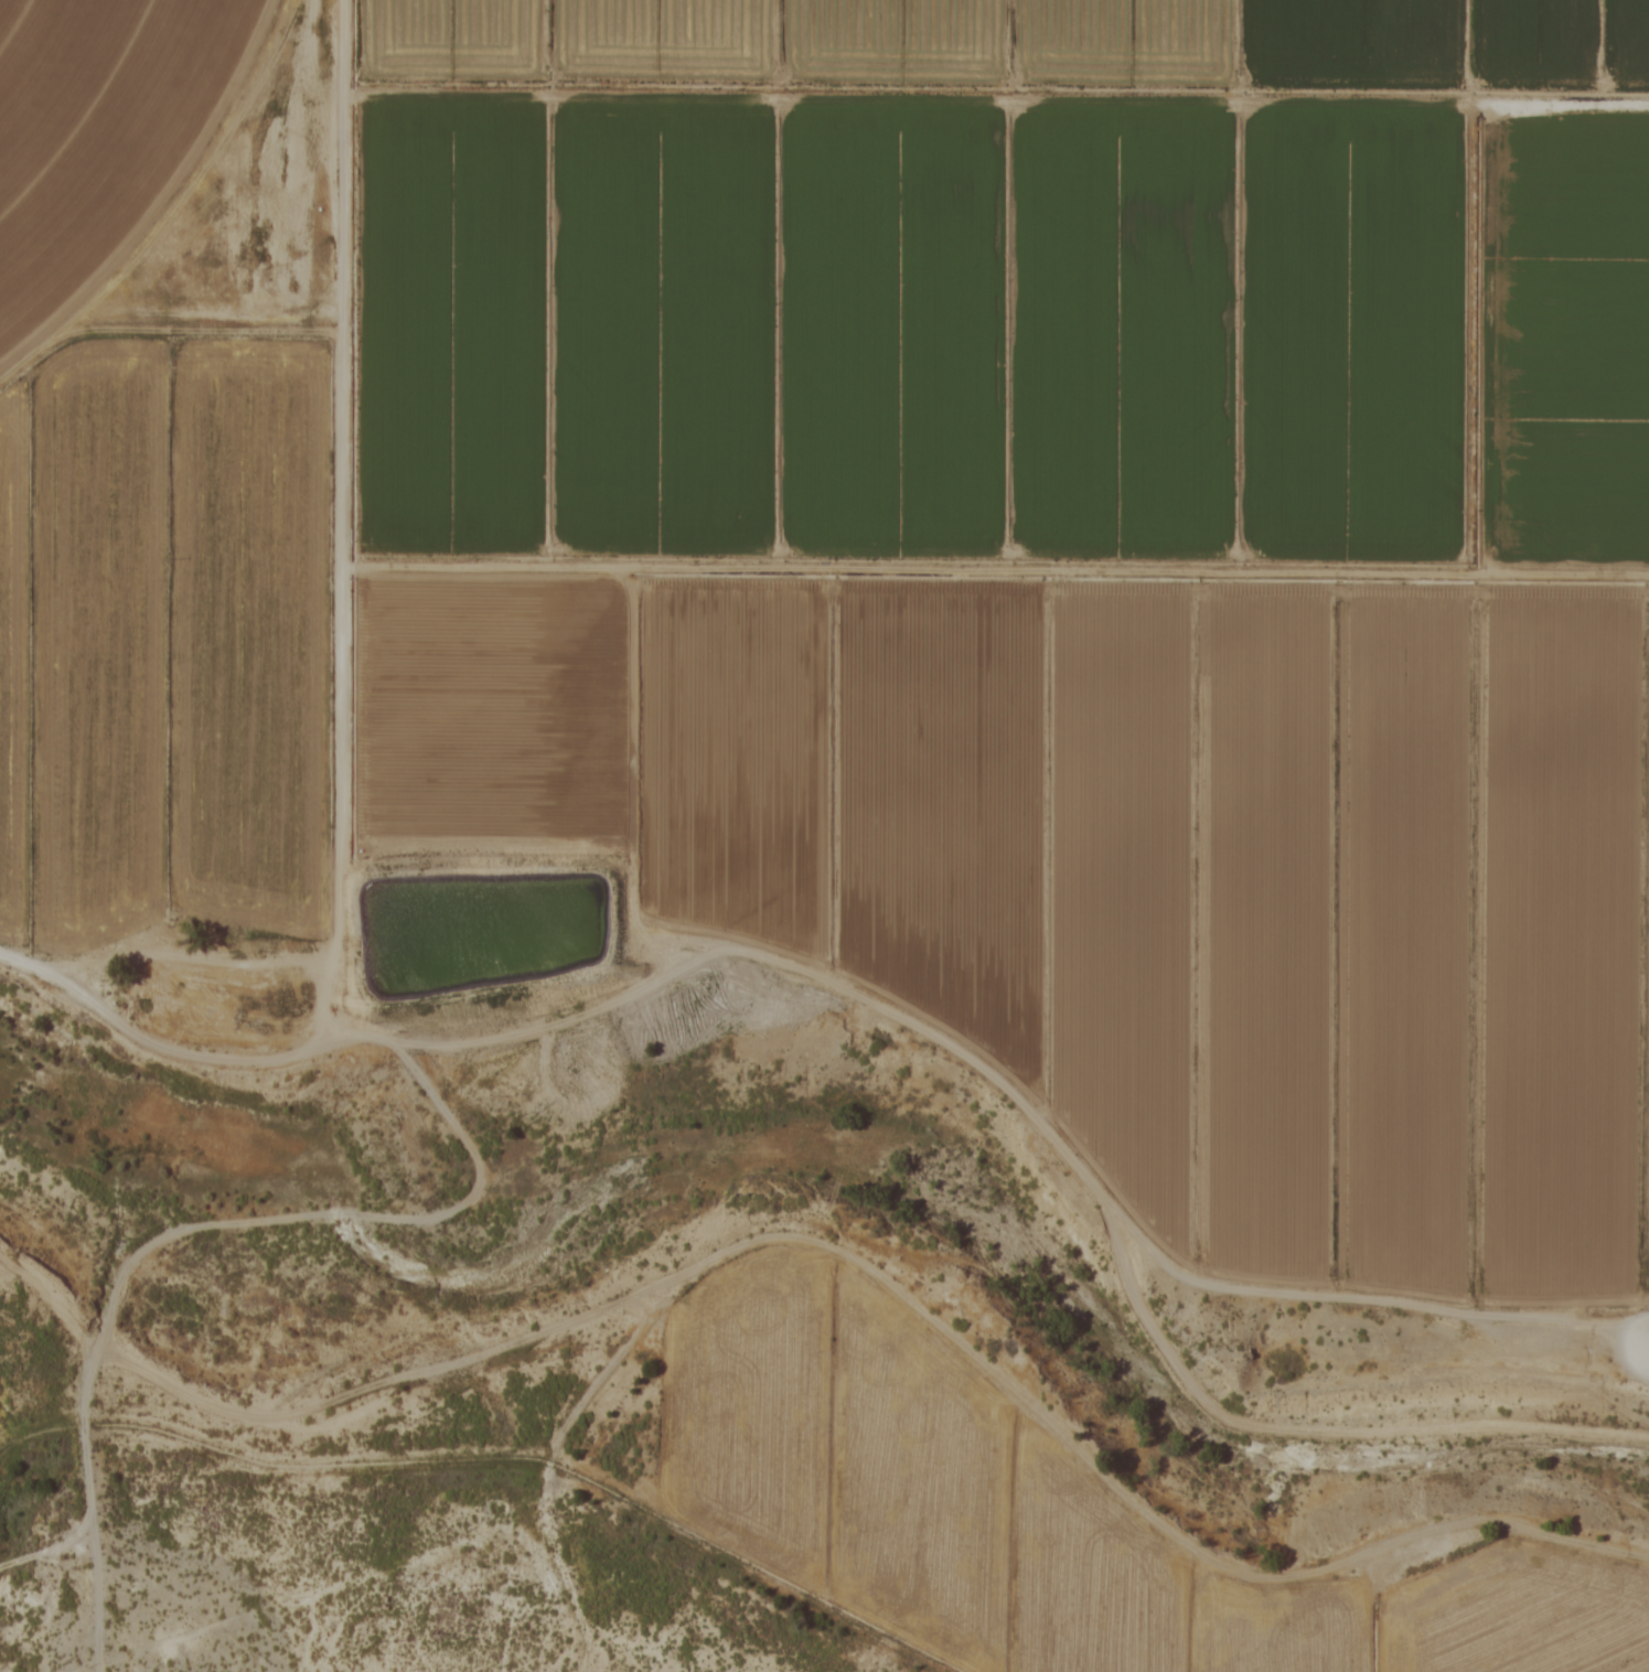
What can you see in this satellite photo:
road: (341, 523)
road: (1013, 1094)
road: (386, 1220)

